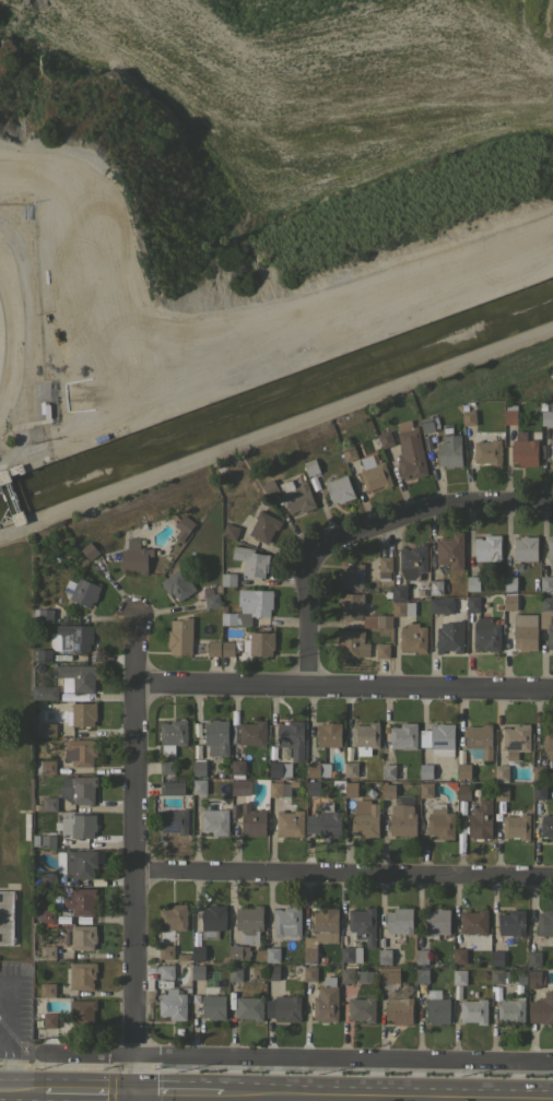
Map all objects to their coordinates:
quarry: (242, 150)
building: (546, 412)
building: (509, 414)
building: (468, 415)
building: (428, 424)
building: (385, 439)
building: (427, 440)
building: (449, 448)
building: (486, 448)
building: (523, 449)
building: (409, 450)
building: (551, 450)
building: (349, 452)
building: (310, 466)
building: (16, 469)
building: (4, 476)
building: (375, 476)
building: (270, 488)
building: (339, 489)
building: (296, 496)
building: (19, 518)
building: (183, 526)
building: (263, 526)
building: (231, 531)
road: (369, 537)
building: (486, 548)
building: (525, 548)
building: (90, 550)
building: (450, 550)
building: (550, 552)
building: (134, 556)
building: (251, 561)
building: (412, 561)
building: (384, 566)
building: (351, 575)
building: (228, 579)
building: (546, 582)
building: (178, 583)
building: (472, 583)
building: (509, 583)
building: (435, 587)
building: (82, 591)
building: (399, 592)
building: (211, 594)
building: (387, 594)
building: (509, 601)
building: (473, 603)
building: (350, 605)
building: (440, 605)
building: (248, 606)
building: (402, 607)
building: (44, 614)
building: (522, 618)
building: (532, 618)
building: (546, 618)
building: (511, 619)
building: (377, 620)
building: (486, 632)
building: (180, 636)
building: (71, 637)
building: (413, 637)
building: (449, 637)
building: (525, 637)
building: (332, 641)
building: (259, 643)
building: (352, 643)
building: (237, 646)
building: (213, 648)
building: (227, 649)
building: (381, 650)
building: (44, 655)
building: (77, 677)
road: (345, 690)
building: (44, 692)
building: (82, 714)
building: (197, 729)
building: (48, 730)
building: (252, 733)
building: (329, 734)
building: (173, 735)
building: (403, 735)
building: (216, 737)
building: (365, 737)
building: (291, 739)
building: (438, 739)
building: (516, 739)
building: (479, 741)
building: (548, 742)
building: (196, 749)
building: (81, 751)
building: (272, 753)
building: (46, 767)
building: (167, 767)
building: (199, 767)
building: (237, 769)
building: (280, 769)
building: (318, 769)
building: (351, 769)
building: (388, 771)
building: (425, 771)
building: (462, 771)
building: (502, 772)
building: (539, 772)
building: (219, 773)
building: (442, 773)
building: (451, 774)
building: (293, 784)
building: (172, 786)
building: (199, 786)
building: (240, 788)
building: (313, 788)
building: (346, 788)
building: (79, 789)
building: (275, 789)
building: (426, 790)
building: (539, 791)
building: (463, 792)
building: (501, 793)
building: (325, 798)
building: (49, 803)
building: (234, 808)
building: (549, 809)
building: (399, 812)
building: (366, 818)
building: (175, 820)
building: (252, 820)
building: (480, 820)
building: (215, 821)
building: (440, 821)
building: (290, 822)
building: (323, 822)
building: (77, 826)
building: (516, 826)
building: (546, 826)
building: (48, 841)
road: (136, 860)
building: (80, 863)
road: (344, 875)
building: (47, 878)
building: (79, 901)
building: (47, 915)
building: (7, 916)
building: (62, 917)
building: (173, 917)
building: (212, 921)
building: (399, 921)
building: (437, 921)
building: (473, 922)
building: (511, 922)
building: (249, 923)
building: (286, 923)
building: (545, 923)
building: (363, 924)
building: (321, 932)
building: (82, 936)
building: (195, 937)
building: (63, 939)
building: (380, 942)
building: (166, 951)
building: (48, 952)
building: (198, 952)
building: (238, 952)
building: (272, 954)
building: (351, 954)
building: (181, 956)
building: (385, 956)
building: (459, 956)
building: (422, 957)
building: (496, 958)
building: (533, 958)
building: (395, 960)
building: (522, 961)
building: (166, 971)
building: (198, 971)
building: (272, 972)
building: (235, 973)
building: (309, 973)
building: (388, 974)
building: (422, 974)
building: (82, 975)
building: (346, 975)
building: (497, 975)
building: (365, 976)
building: (459, 976)
building: (521, 976)
building: (533, 978)
building: (517, 987)
building: (188, 988)
building: (48, 990)
building: (496, 992)
building: (326, 1002)
building: (172, 1004)
building: (400, 1005)
building: (213, 1006)
building: (249, 1007)
building: (283, 1007)
building: (436, 1007)
building: (541, 1008)
building: (362, 1009)
building: (83, 1010)
building: (473, 1010)
building: (510, 1010)
building: (49, 1020)
road: (85, 1052)
road: (343, 1056)
road: (5, 1067)
road: (21, 1090)
road: (86, 1091)
road: (176, 1092)
road: (387, 1097)

